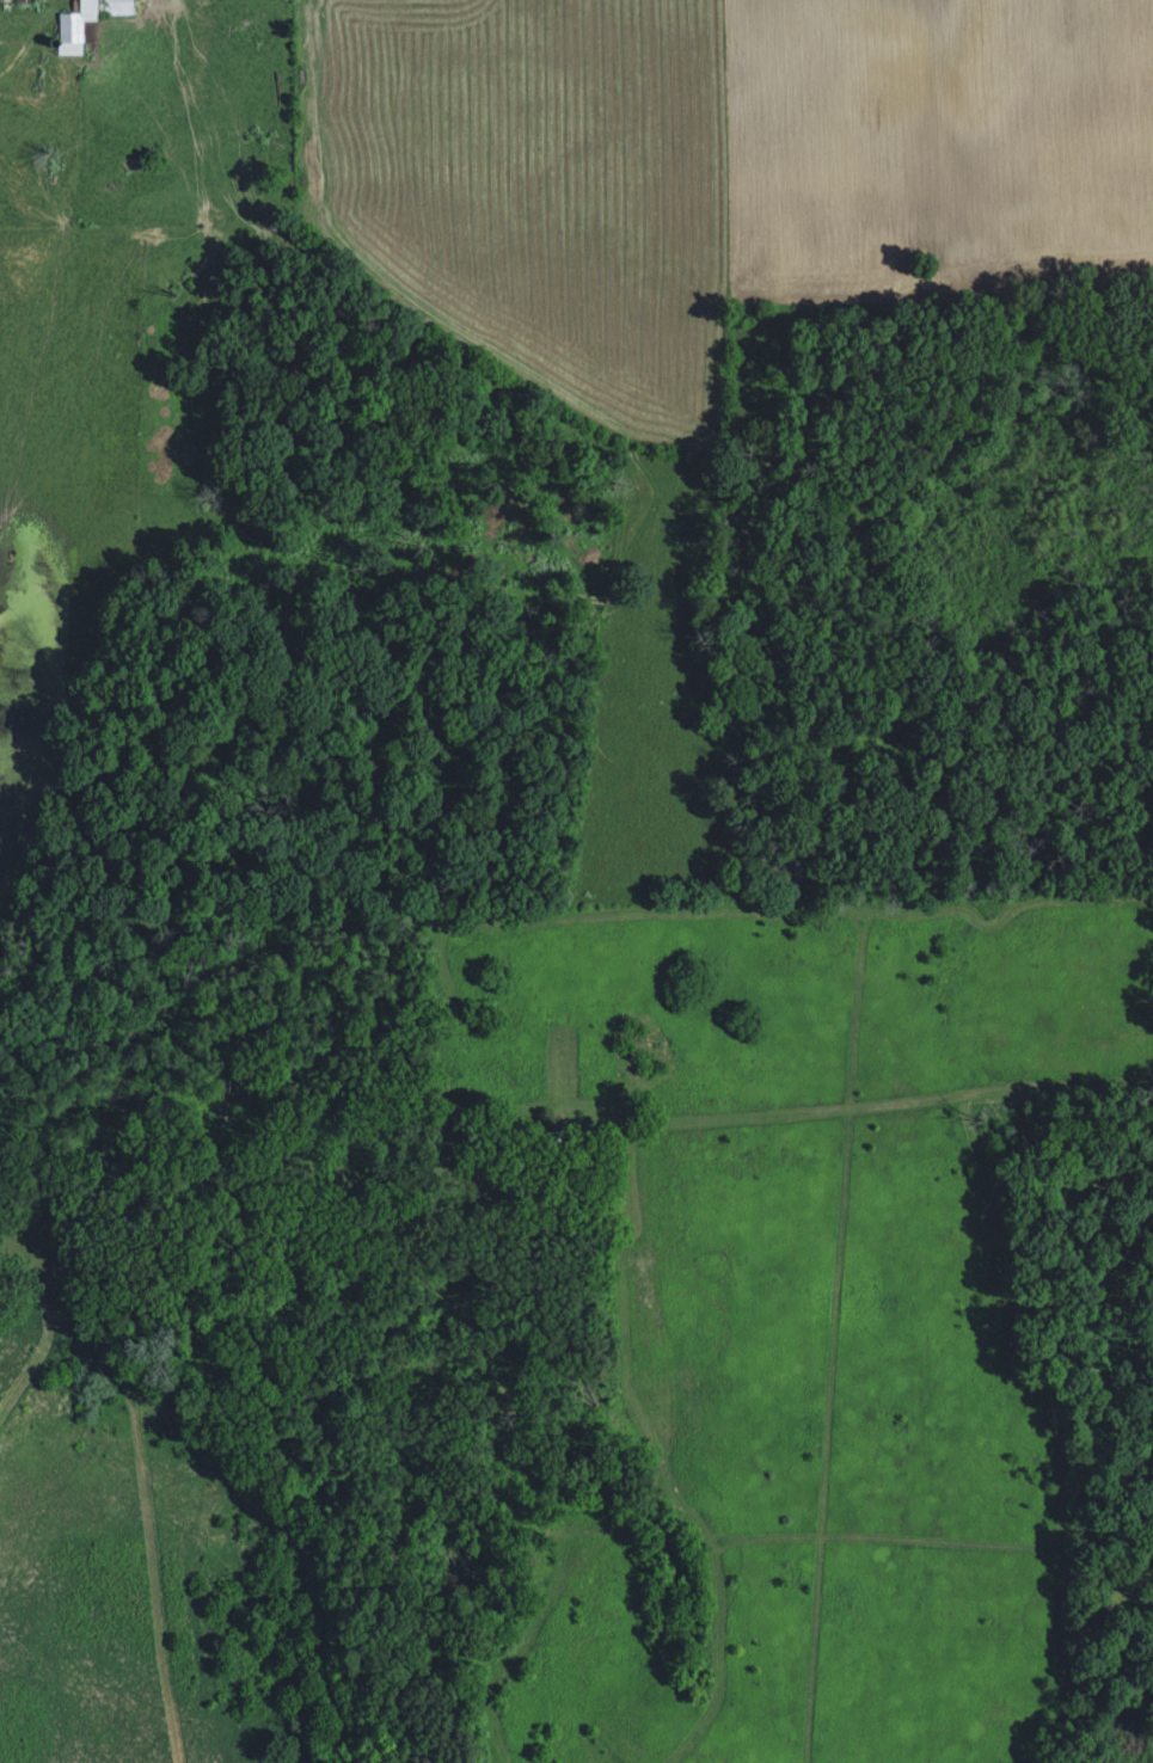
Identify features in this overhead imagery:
building: (69, 37)

